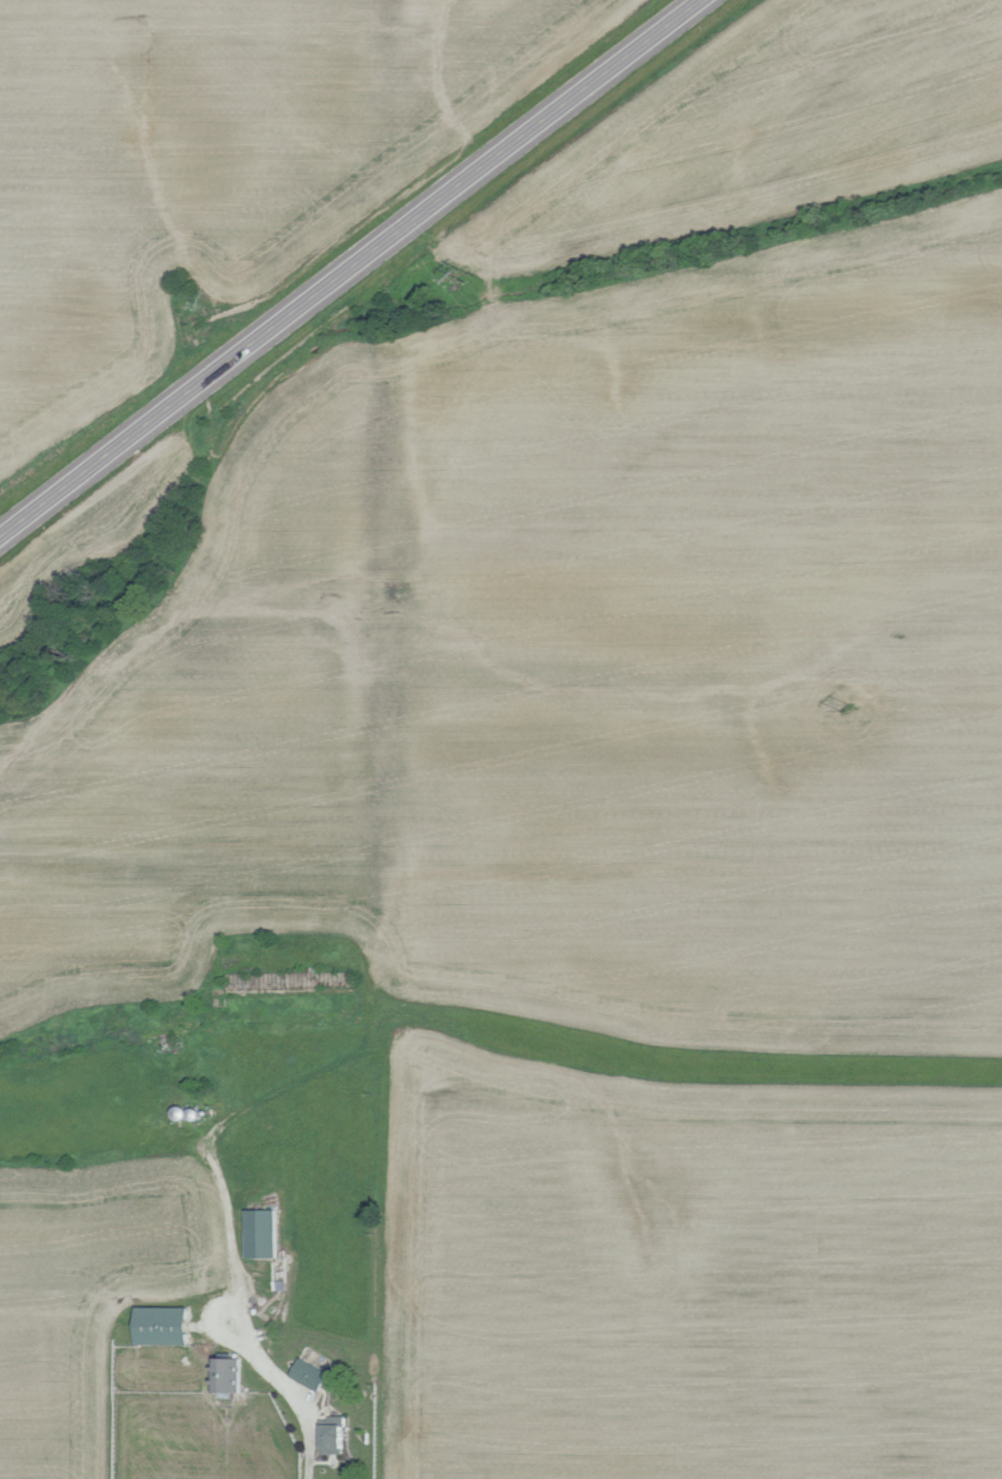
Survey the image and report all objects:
road: (352, 269)
power tower: (469, 276)
power tower: (841, 698)
road: (217, 1154)
building: (265, 1232)
building: (167, 1325)
building: (313, 1373)
building: (230, 1374)
building: (337, 1434)

